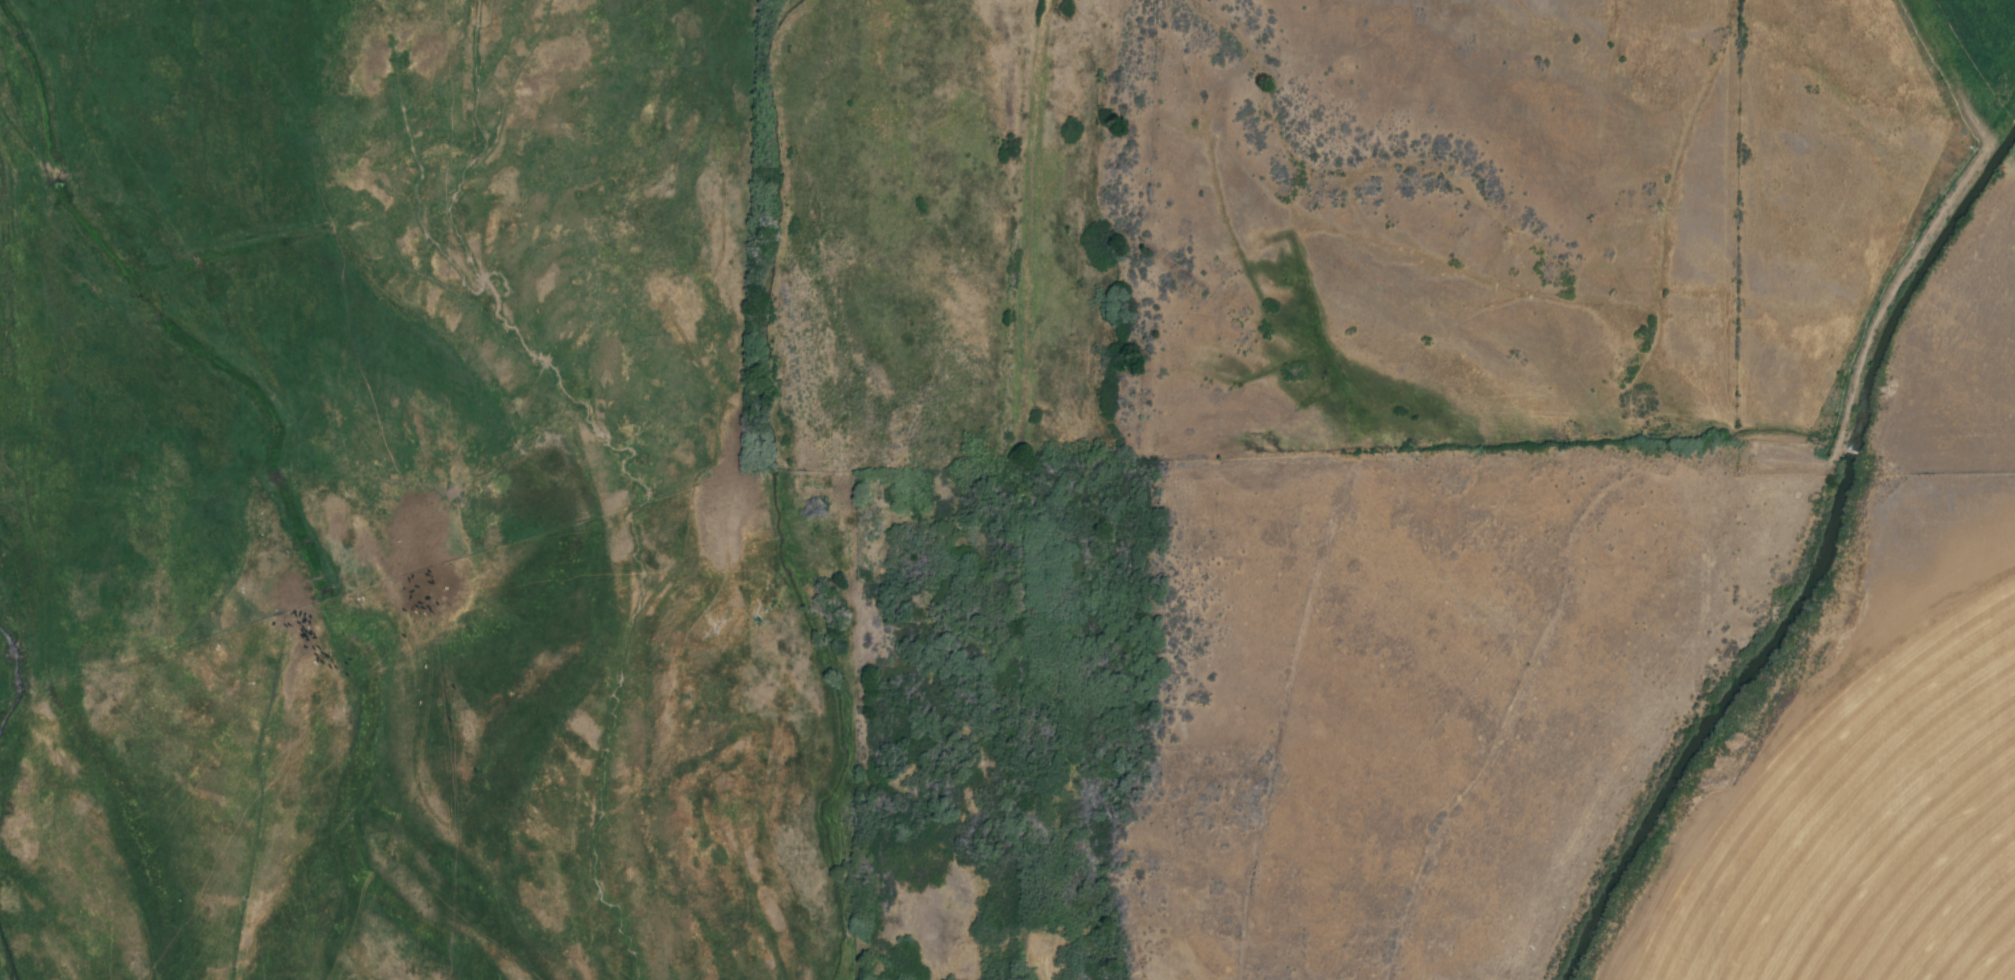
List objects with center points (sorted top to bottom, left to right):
crop: (1976, 56)
crop: (1866, 776)

